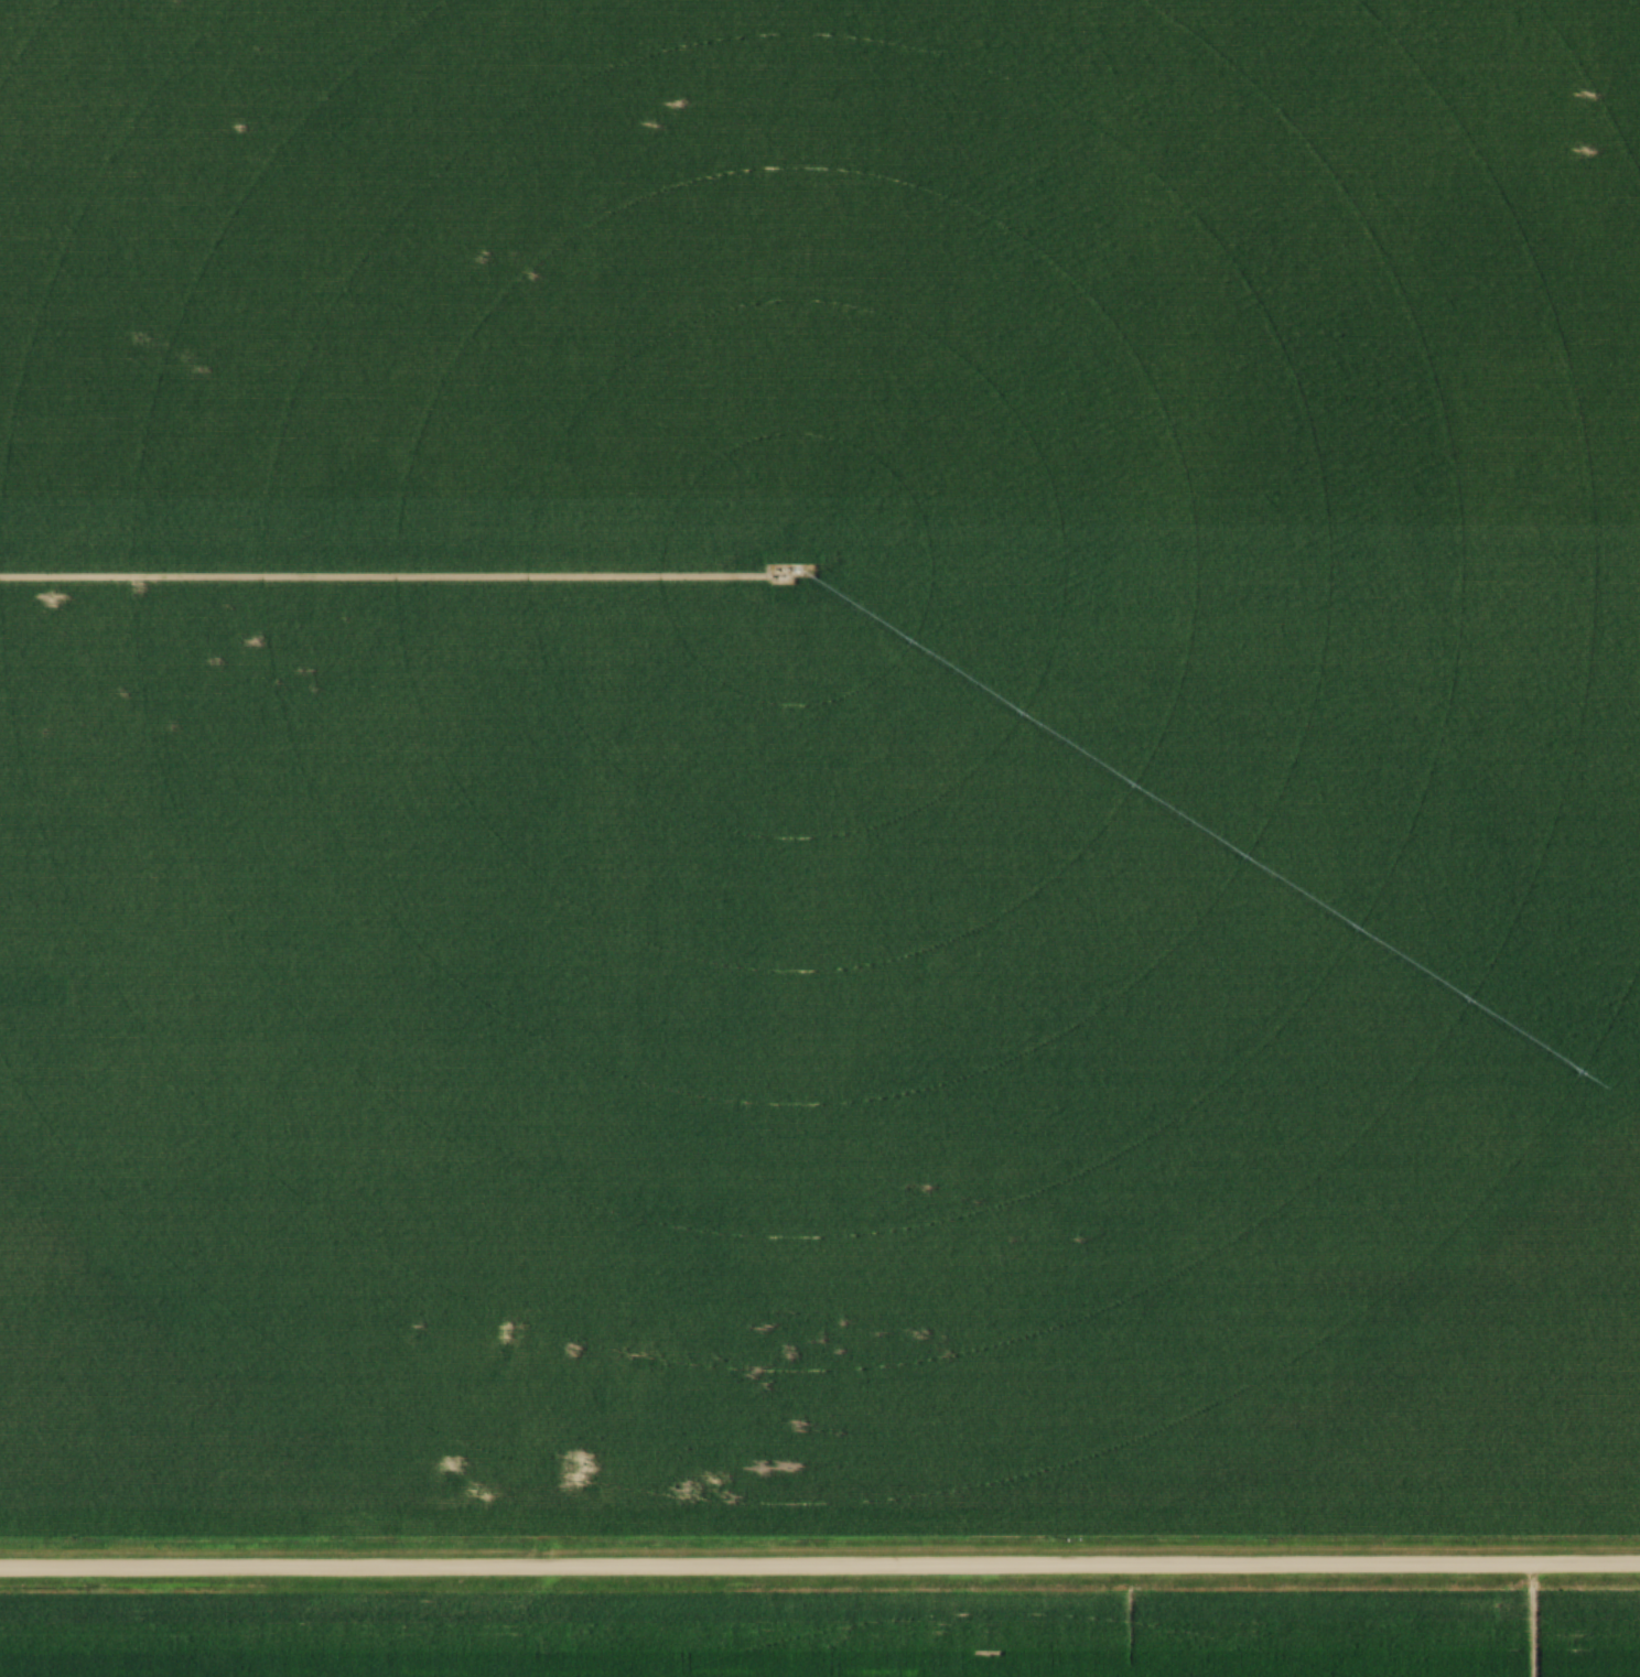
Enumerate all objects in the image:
road: (820, 1566)

